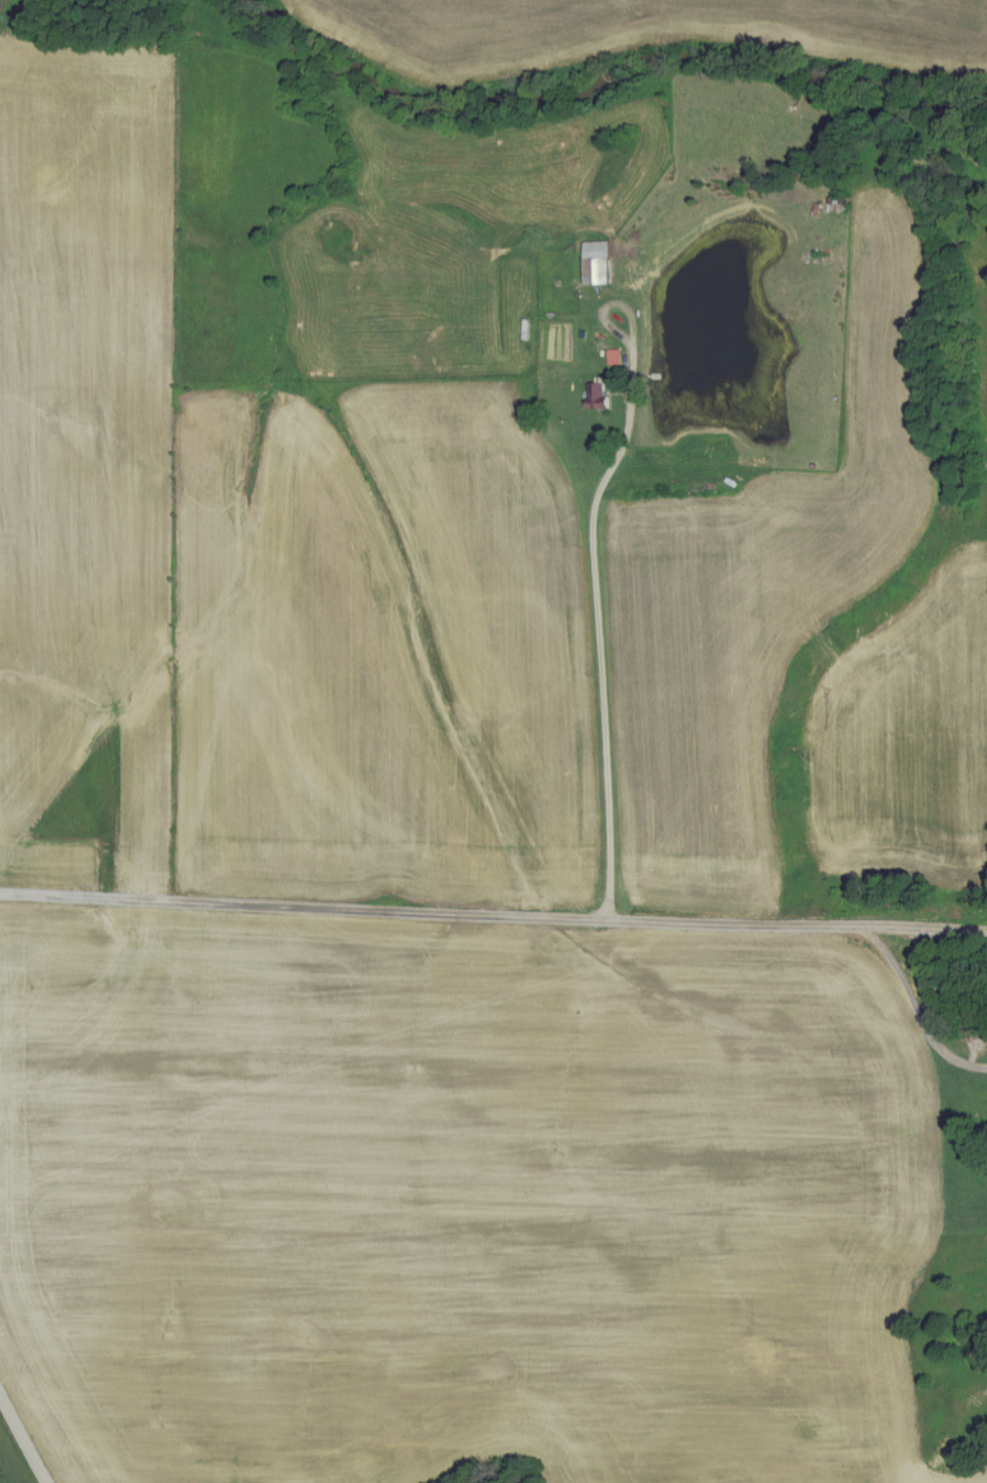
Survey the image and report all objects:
building: (599, 262)
road: (631, 325)
building: (616, 356)
building: (598, 393)
road: (596, 628)
road: (493, 917)
road: (918, 1012)
road: (24, 1437)

